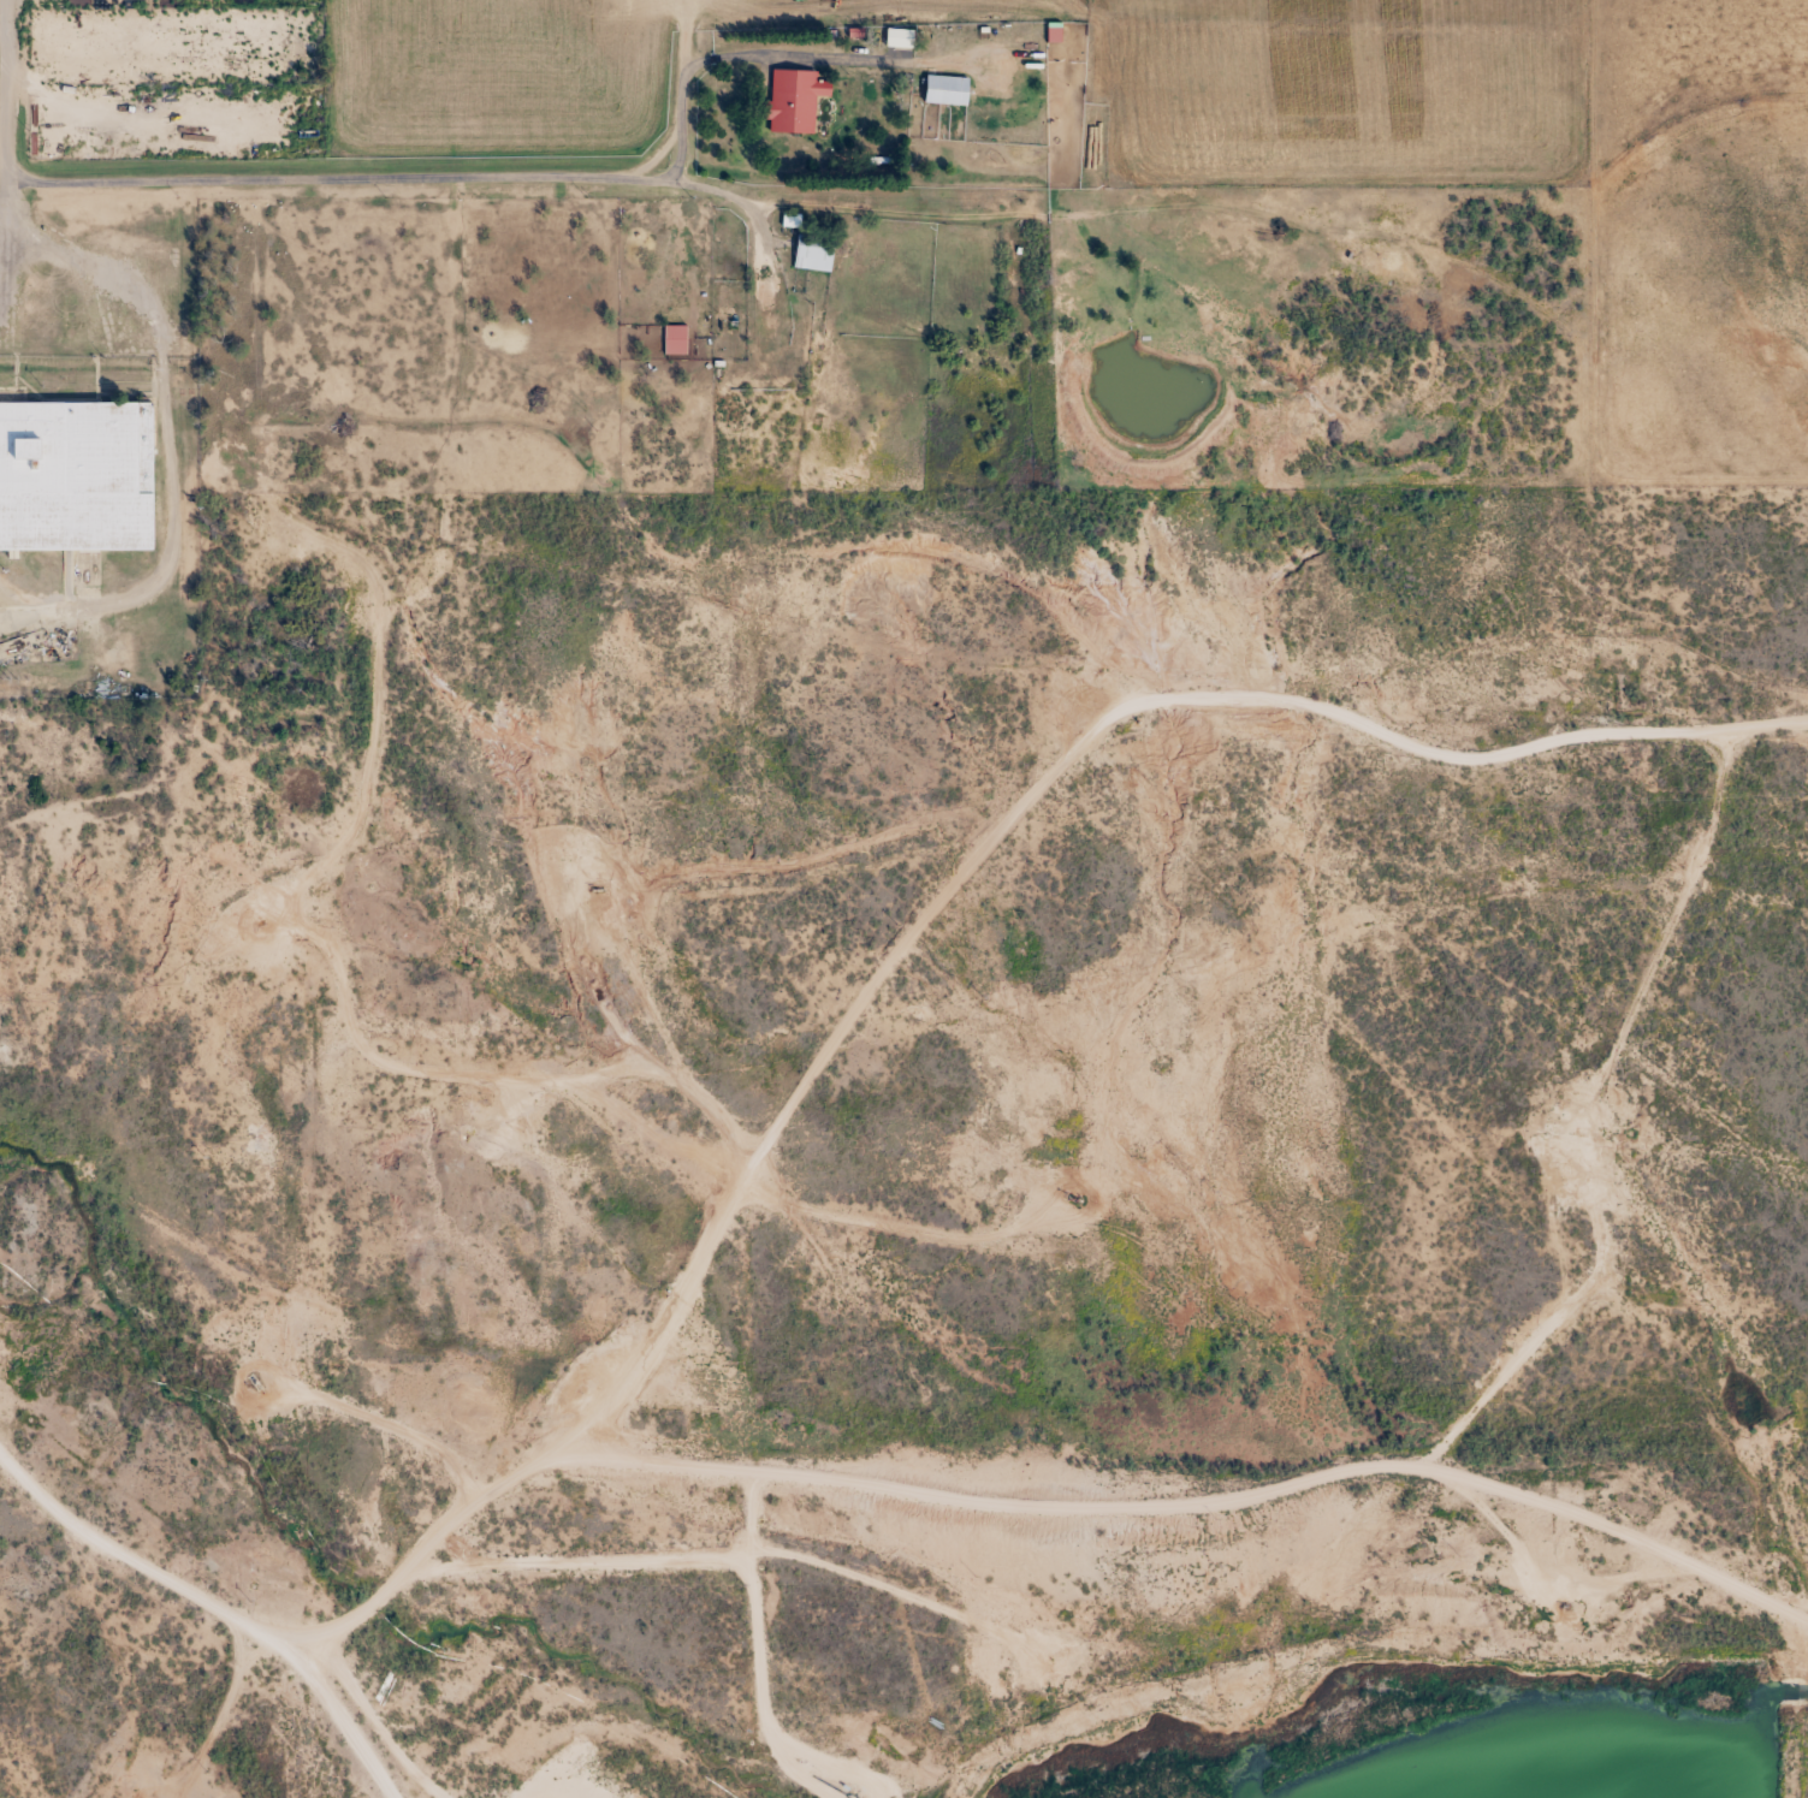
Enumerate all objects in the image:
road: (5, 14)
building: (893, 42)
road: (734, 60)
road: (11, 90)
building: (941, 95)
building: (789, 100)
road: (336, 183)
road: (6, 198)
road: (739, 209)
building: (812, 251)
building: (675, 332)
building: (72, 480)
road: (823, 1052)
road: (1583, 1118)
building: (607, 1353)
road: (1190, 1501)
road: (336, 1716)

